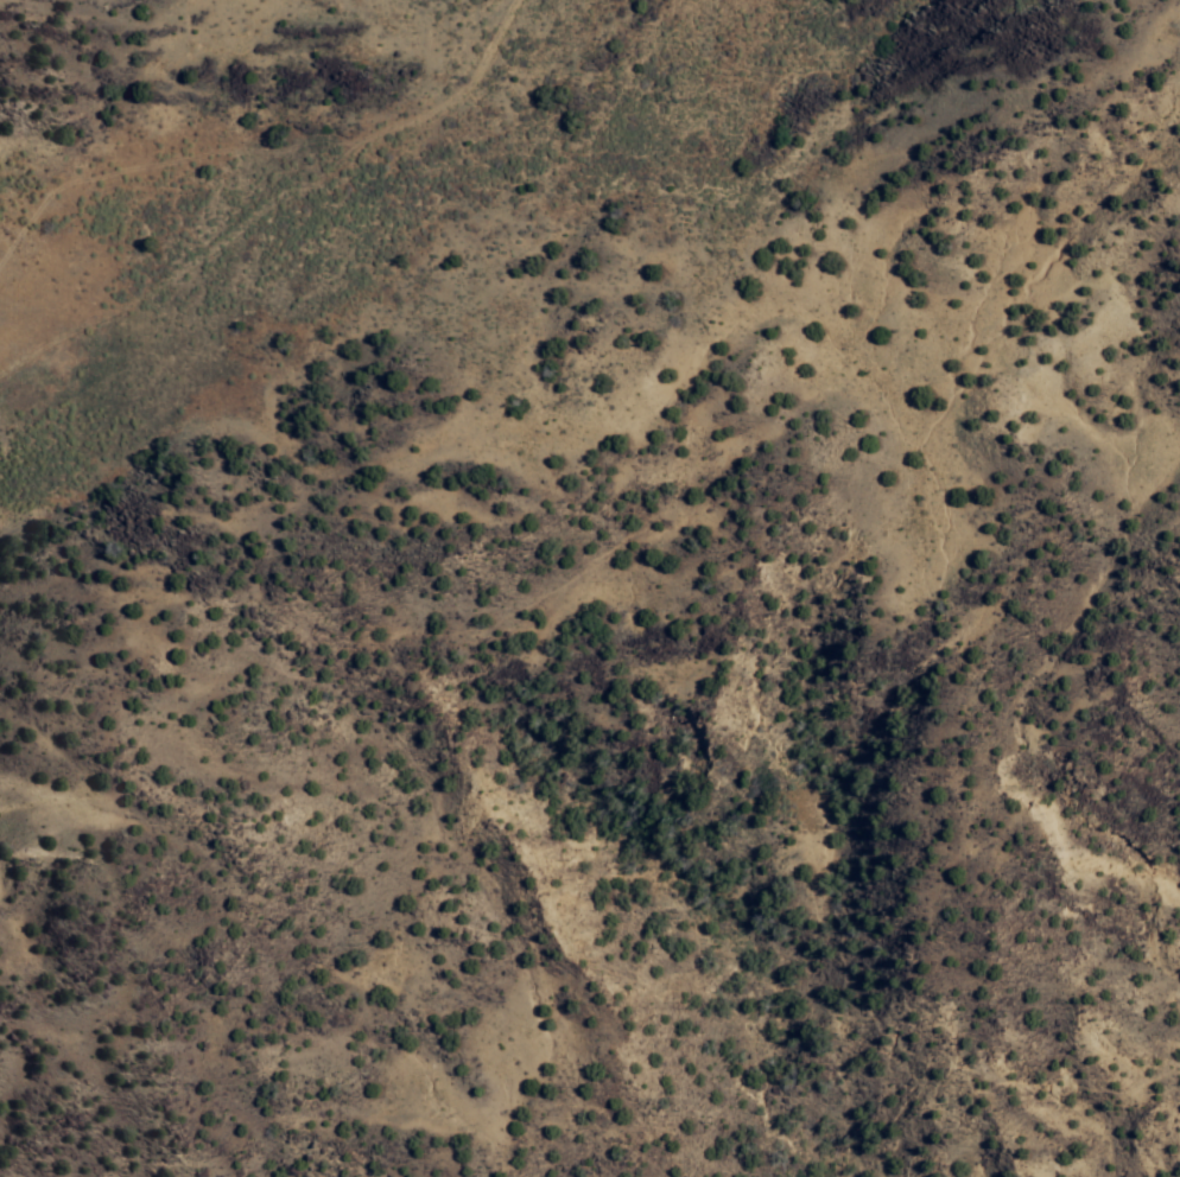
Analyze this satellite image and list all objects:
road: (833, 623)

